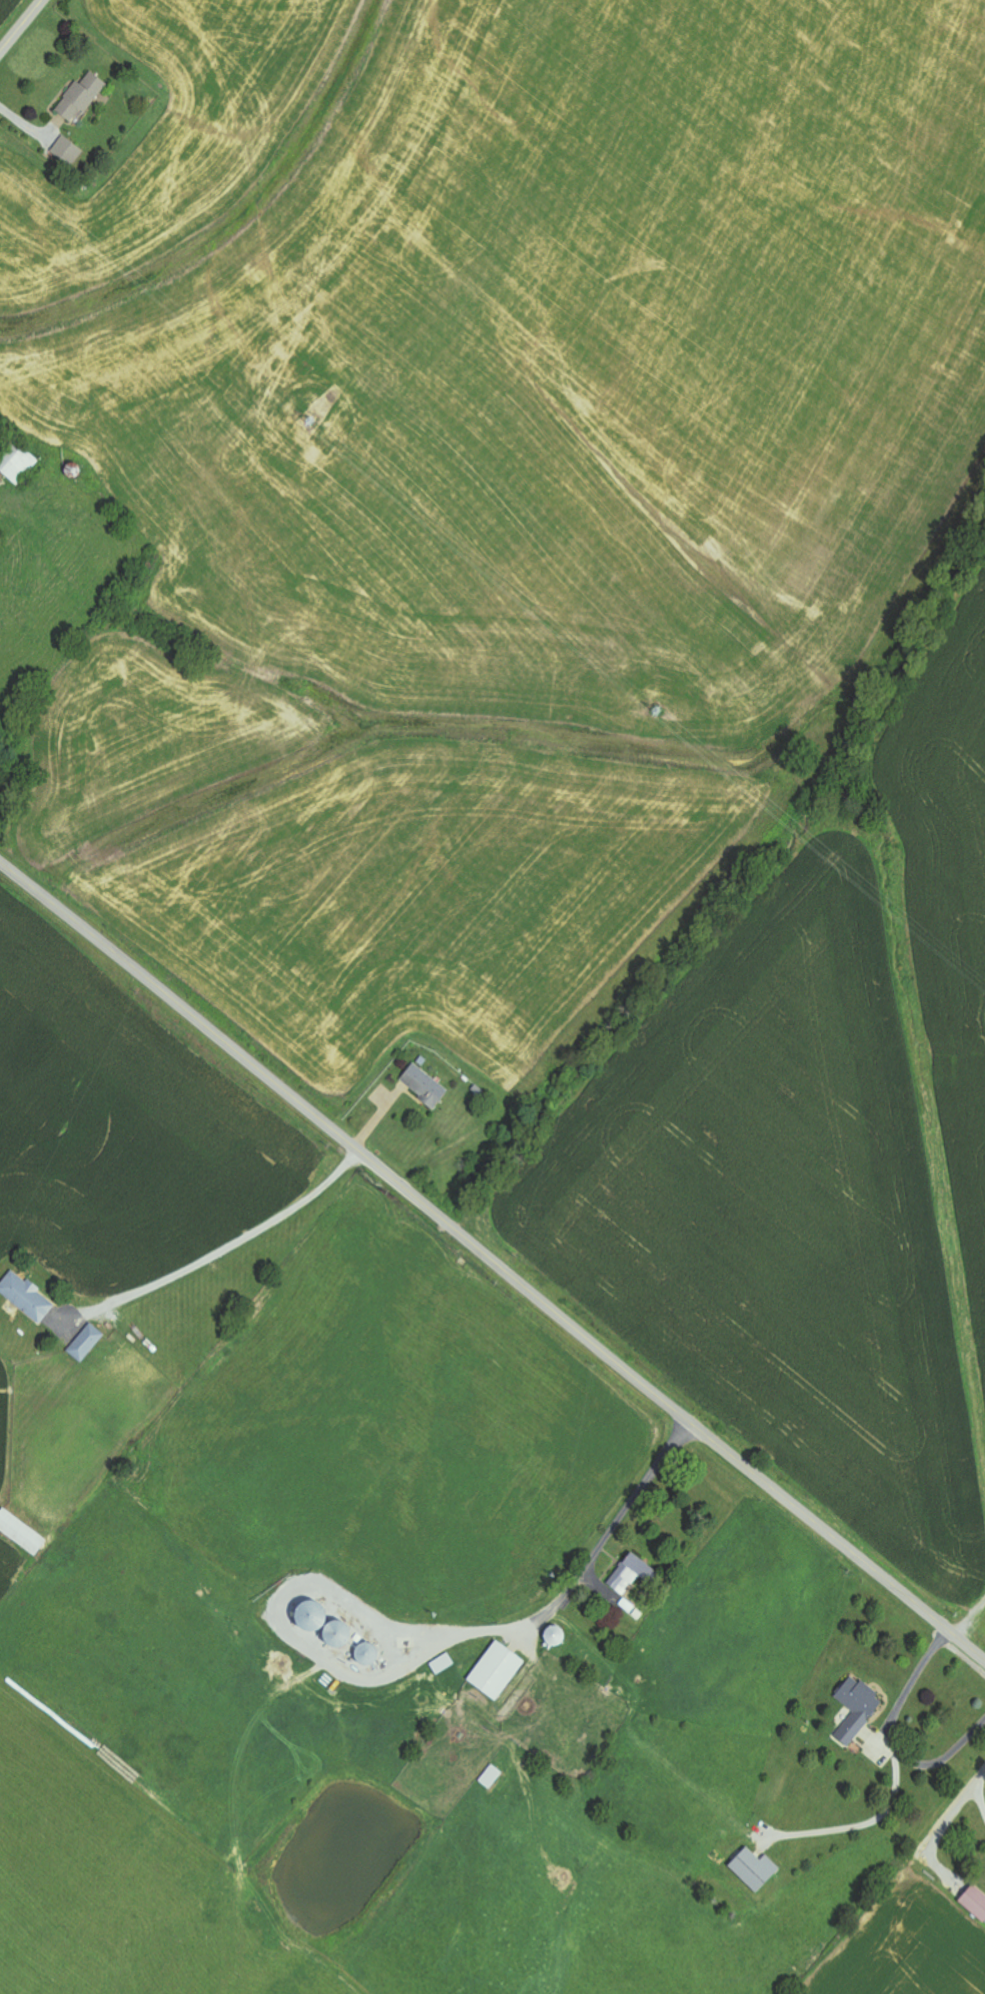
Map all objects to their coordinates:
road: (21, 26)
building: (84, 96)
building: (20, 465)
building: (426, 1086)
road: (223, 1249)
road: (492, 1260)
building: (28, 1297)
building: (88, 1344)
building: (22, 1533)
building: (634, 1575)
building: (444, 1665)
building: (499, 1672)
building: (859, 1708)
building: (493, 1777)
building: (757, 1869)
building: (976, 1901)

